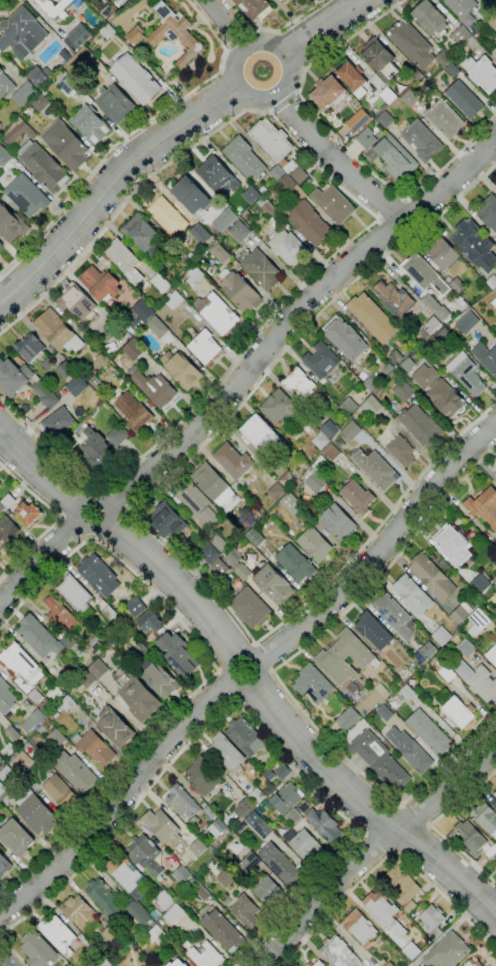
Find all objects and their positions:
building: (281, 0)
building: (284, 0)
building: (486, 0)
building: (489, 0)
building: (55, 8)
building: (254, 8)
building: (108, 9)
building: (462, 10)
building: (430, 18)
building: (492, 22)
road: (225, 24)
road: (323, 27)
building: (22, 31)
building: (85, 31)
building: (108, 31)
road: (272, 31)
building: (176, 34)
building: (459, 34)
building: (136, 35)
building: (478, 35)
road: (233, 37)
building: (411, 43)
building: (472, 43)
building: (24, 51)
building: (65, 54)
building: (494, 54)
building: (378, 56)
building: (443, 59)
building: (453, 70)
building: (37, 73)
building: (482, 73)
building: (415, 74)
building: (135, 78)
building: (353, 78)
building: (403, 83)
building: (5, 84)
building: (69, 85)
building: (330, 93)
building: (25, 94)
building: (387, 95)
building: (410, 98)
road: (255, 99)
building: (465, 99)
building: (40, 102)
road: (285, 103)
building: (115, 104)
building: (362, 118)
building: (443, 119)
building: (384, 120)
building: (91, 124)
building: (18, 131)
building: (346, 132)
road: (132, 135)
building: (365, 138)
building: (422, 140)
building: (273, 142)
building: (358, 142)
road: (341, 143)
building: (66, 144)
building: (3, 157)
building: (395, 157)
building: (244, 158)
road: (338, 161)
building: (43, 166)
building: (277, 173)
building: (218, 175)
building: (299, 175)
building: (287, 184)
building: (495, 186)
road: (112, 190)
building: (251, 195)
building: (27, 196)
building: (192, 197)
building: (333, 204)
building: (266, 206)
road: (391, 208)
building: (489, 212)
building: (168, 216)
building: (225, 219)
building: (309, 223)
building: (11, 224)
road: (372, 224)
building: (239, 231)
building: (141, 233)
building: (200, 233)
building: (1, 245)
building: (475, 245)
building: (288, 247)
building: (218, 250)
building: (442, 254)
building: (178, 255)
building: (124, 260)
building: (261, 269)
building: (194, 274)
building: (423, 274)
building: (492, 281)
building: (161, 283)
building: (101, 284)
building: (457, 284)
building: (240, 291)
building: (394, 299)
building: (174, 300)
building: (76, 302)
building: (494, 303)
building: (439, 311)
building: (218, 313)
road: (296, 314)
building: (141, 315)
building: (373, 318)
building: (467, 322)
building: (432, 325)
building: (156, 326)
building: (58, 331)
building: (344, 338)
building: (439, 340)
building: (29, 347)
building: (205, 347)
building: (134, 349)
building: (396, 357)
building: (486, 358)
building: (103, 360)
building: (321, 360)
building: (47, 364)
building: (407, 364)
building: (65, 369)
building: (182, 370)
building: (466, 373)
building: (372, 381)
building: (24, 383)
building: (299, 384)
building: (75, 386)
building: (155, 389)
building: (404, 391)
building: (440, 392)
road: (245, 398)
building: (348, 406)
building: (371, 406)
building: (278, 407)
building: (134, 412)
building: (57, 423)
building: (420, 426)
building: (330, 429)
building: (351, 431)
building: (261, 433)
building: (118, 436)
building: (321, 441)
building: (95, 451)
building: (402, 451)
building: (332, 452)
building: (233, 461)
road: (38, 469)
building: (379, 471)
building: (495, 473)
building: (495, 476)
building: (315, 480)
building: (287, 481)
building: (215, 487)
building: (277, 491)
building: (358, 497)
building: (198, 503)
building: (292, 504)
building: (484, 506)
building: (21, 509)
building: (254, 513)
road: (59, 519)
building: (167, 521)
building: (338, 523)
road: (379, 526)
building: (8, 529)
road: (90, 531)
building: (254, 535)
building: (218, 543)
building: (453, 544)
building: (315, 545)
road: (382, 546)
building: (1, 548)
building: (209, 553)
building: (0, 555)
building: (228, 557)
road: (40, 561)
building: (295, 563)
building: (220, 567)
building: (243, 571)
building: (99, 574)
building: (432, 577)
building: (483, 583)
building: (274, 585)
road: (176, 586)
building: (495, 587)
building: (145, 590)
building: (75, 593)
building: (412, 595)
building: (138, 608)
building: (250, 608)
building: (109, 613)
building: (461, 613)
building: (61, 616)
building: (395, 616)
building: (482, 618)
building: (495, 619)
building: (151, 621)
building: (373, 632)
building: (442, 636)
building: (39, 637)
building: (95, 645)
building: (73, 646)
building: (466, 648)
building: (145, 649)
building: (425, 652)
building: (178, 654)
building: (492, 656)
building: (345, 657)
building: (20, 662)
building: (97, 669)
road: (215, 669)
road: (274, 669)
building: (403, 674)
building: (447, 675)
building: (160, 678)
building: (87, 679)
building: (65, 681)
building: (478, 681)
building: (78, 684)
building: (313, 684)
road: (239, 690)
building: (407, 690)
building: (36, 696)
building: (6, 698)
building: (139, 699)
building: (372, 699)
building: (393, 703)
building: (66, 704)
building: (46, 705)
road: (244, 709)
building: (385, 712)
building: (459, 712)
building: (56, 714)
building: (347, 719)
building: (33, 720)
building: (115, 727)
building: (428, 732)
building: (13, 734)
building: (57, 734)
building: (246, 737)
building: (95, 747)
building: (409, 750)
building: (227, 753)
building: (21, 755)
building: (376, 756)
road: (321, 764)
building: (243, 772)
building: (283, 772)
building: (7, 774)
building: (79, 774)
building: (270, 775)
building: (203, 776)
road: (445, 788)
building: (3, 791)
building: (62, 793)
building: (495, 795)
building: (257, 796)
building: (286, 799)
road: (117, 803)
building: (183, 803)
building: (304, 807)
building: (241, 810)
building: (260, 810)
building: (36, 812)
building: (209, 813)
building: (294, 817)
building: (485, 819)
building: (324, 824)
road: (428, 825)
building: (162, 826)
building: (261, 827)
building: (215, 829)
building: (16, 837)
building: (470, 837)
building: (306, 846)
building: (198, 847)
building: (212, 849)
building: (147, 853)
building: (491, 853)
building: (188, 855)
road: (387, 855)
building: (495, 862)
building: (4, 864)
building: (282, 866)
building: (221, 868)
road: (447, 874)
building: (183, 875)
building: (127, 876)
building: (226, 878)
building: (260, 880)
building: (163, 881)
building: (402, 883)
building: (153, 886)
building: (200, 891)
building: (103, 896)
road: (327, 898)
building: (164, 900)
building: (401, 904)
building: (411, 906)
building: (381, 907)
building: (246, 911)
building: (80, 913)
building: (139, 914)
building: (174, 914)
building: (432, 917)
building: (360, 928)
building: (223, 930)
building: (57, 931)
building: (112, 933)
building: (436, 934)
building: (155, 936)
building: (37, 949)
building: (413, 951)
building: (448, 951)
road: (13, 952)
building: (339, 953)
building: (203, 954)
building: (102, 960)
road: (2, 963)
building: (177, 963)
building: (472, 963)
building: (310, 964)
building: (319, 964)
building: (390, 964)
building: (153, 965)
building: (306, 965)

